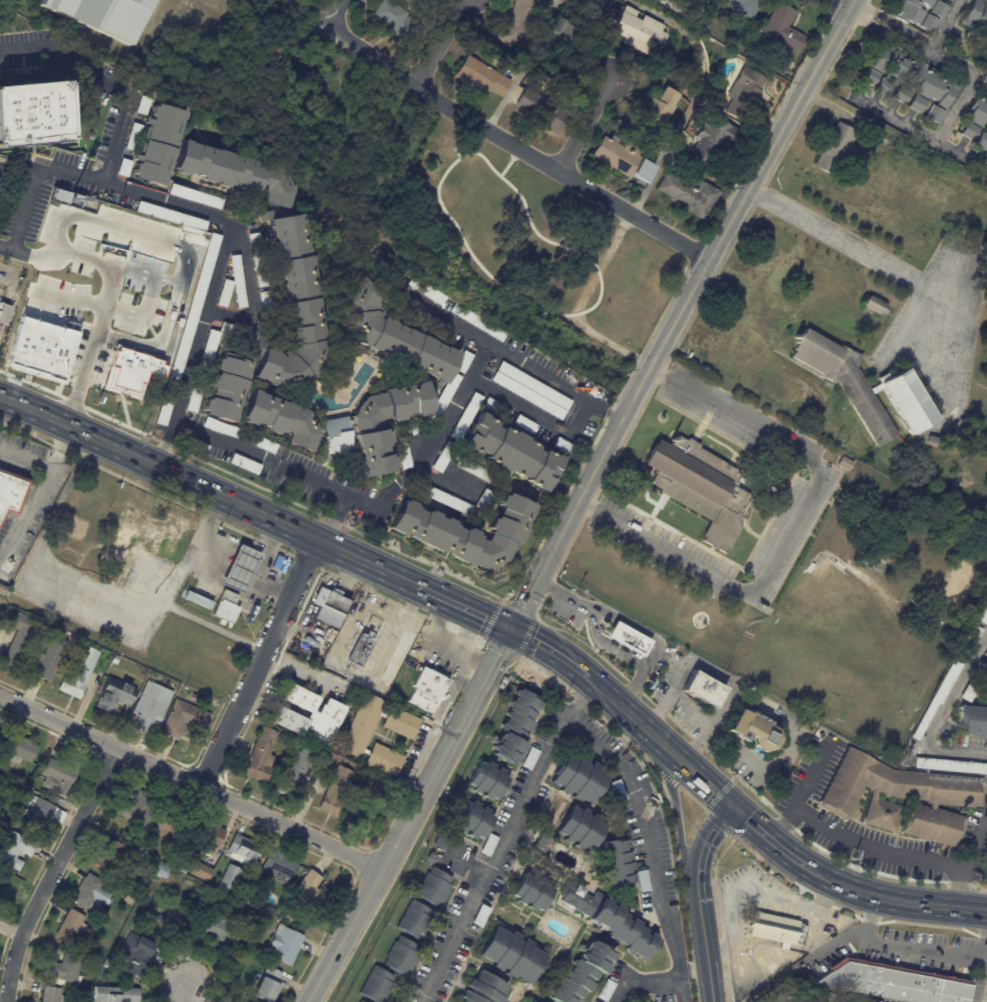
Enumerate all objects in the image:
building: (948, 0)
building: (983, 0)
building: (985, 0)
building: (664, 1)
road: (840, 3)
building: (747, 7)
building: (938, 9)
building: (910, 10)
road: (334, 12)
building: (104, 15)
building: (975, 16)
building: (393, 21)
road: (892, 22)
building: (519, 23)
building: (928, 23)
road: (947, 25)
building: (784, 29)
building: (985, 32)
road: (889, 34)
building: (643, 35)
road: (435, 43)
building: (568, 43)
building: (682, 54)
road: (524, 65)
building: (912, 75)
building: (868, 77)
building: (481, 79)
building: (882, 86)
road: (963, 92)
building: (744, 94)
building: (900, 95)
road: (692, 99)
building: (915, 104)
building: (142, 105)
building: (661, 110)
building: (977, 111)
building: (543, 112)
building: (932, 114)
building: (35, 115)
road: (582, 125)
building: (968, 131)
building: (986, 132)
building: (617, 135)
road: (917, 135)
building: (133, 136)
building: (713, 140)
building: (980, 141)
building: (158, 144)
road: (514, 145)
building: (836, 149)
road: (108, 153)
building: (624, 160)
building: (123, 168)
building: (235, 171)
road: (112, 183)
building: (61, 196)
building: (195, 196)
building: (690, 196)
building: (77, 198)
park: (456, 198)
building: (171, 216)
building: (257, 260)
road: (706, 260)
road: (898, 267)
road: (10, 268)
road: (217, 276)
building: (238, 281)
road: (89, 287)
building: (425, 290)
road: (10, 291)
road: (171, 293)
building: (224, 293)
road: (251, 296)
building: (265, 304)
building: (876, 306)
building: (293, 309)
road: (549, 311)
road: (3, 314)
building: (5, 314)
building: (48, 316)
road: (80, 317)
building: (477, 323)
building: (189, 330)
building: (236, 331)
building: (393, 336)
building: (462, 362)
building: (201, 371)
road: (65, 372)
road: (539, 375)
building: (846, 381)
building: (532, 385)
building: (226, 388)
building: (526, 395)
building: (443, 397)
building: (908, 400)
building: (493, 406)
road: (522, 406)
road: (605, 413)
building: (464, 417)
building: (282, 420)
road: (583, 420)
building: (523, 423)
building: (364, 426)
building: (219, 428)
building: (419, 428)
building: (337, 435)
road: (439, 435)
road: (226, 442)
building: (265, 445)
building: (197, 446)
building: (562, 446)
building: (403, 452)
building: (513, 453)
road: (165, 454)
building: (443, 457)
road: (26, 459)
building: (244, 464)
building: (846, 464)
building: (471, 468)
road: (445, 483)
building: (701, 487)
road: (210, 490)
building: (11, 491)
road: (38, 494)
building: (441, 498)
building: (483, 500)
road: (334, 519)
road: (204, 520)
building: (469, 532)
building: (143, 537)
road: (783, 543)
road: (263, 548)
road: (210, 556)
building: (277, 562)
building: (840, 565)
building: (810, 568)
building: (239, 569)
gas station: (239, 569)
road: (239, 570)
road: (537, 574)
road: (269, 585)
building: (2, 589)
road: (561, 594)
building: (198, 599)
road: (464, 606)
building: (224, 609)
building: (330, 609)
road: (120, 610)
building: (982, 613)
traffic signals: (510, 627)
road: (637, 628)
road: (467, 634)
building: (331, 635)
building: (627, 637)
building: (20, 638)
road: (605, 644)
road: (439, 647)
road: (547, 648)
building: (358, 650)
building: (52, 658)
building: (115, 659)
road: (258, 662)
building: (80, 673)
building: (947, 680)
building: (985, 681)
building: (972, 685)
building: (985, 685)
road: (632, 686)
building: (426, 689)
building: (704, 691)
building: (115, 694)
road: (581, 697)
building: (151, 705)
road: (776, 715)
road: (941, 715)
building: (307, 716)
building: (185, 718)
building: (399, 722)
building: (974, 722)
building: (360, 724)
building: (514, 726)
building: (756, 731)
building: (2, 733)
road: (657, 740)
road: (697, 747)
building: (20, 748)
road: (445, 748)
building: (259, 755)
building: (529, 758)
building: (382, 759)
building: (905, 759)
building: (950, 765)
building: (293, 772)
building: (62, 773)
building: (578, 779)
building: (487, 780)
road: (190, 782)
building: (617, 790)
building: (334, 793)
building: (900, 798)
building: (369, 805)
traffic signals: (733, 806)
building: (140, 808)
road: (675, 810)
building: (41, 814)
building: (471, 819)
building: (166, 825)
road: (785, 825)
building: (580, 828)
building: (210, 836)
road: (842, 836)
road: (766, 837)
building: (440, 840)
building: (541, 843)
building: (488, 845)
road: (703, 845)
road: (647, 847)
building: (14, 848)
building: (244, 850)
building: (109, 854)
building: (429, 857)
road: (494, 857)
road: (966, 858)
road: (468, 863)
building: (616, 864)
building: (279, 866)
building: (182, 868)
building: (161, 870)
building: (202, 871)
road: (53, 872)
building: (231, 878)
building: (641, 880)
building: (432, 886)
building: (311, 891)
road: (751, 891)
building: (531, 892)
building: (92, 893)
building: (576, 897)
building: (0, 898)
building: (130, 898)
road: (892, 900)
building: (479, 915)
building: (412, 919)
building: (173, 923)
building: (130, 925)
building: (71, 926)
building: (217, 928)
building: (622, 928)
building: (772, 928)
road: (343, 936)
road: (985, 938)
road: (839, 941)
road: (905, 943)
building: (286, 944)
road: (752, 946)
road: (703, 948)
building: (135, 953)
building: (511, 954)
building: (400, 955)
building: (108, 964)
building: (66, 969)
building: (230, 972)
building: (580, 973)
road: (655, 978)
building: (375, 984)
building: (894, 984)
building: (268, 985)
building: (482, 989)
building: (604, 990)
road: (183, 991)
building: (115, 994)
building: (53, 995)
building: (784, 997)
building: (358, 1001)
building: (530, 1001)
building: (751, 1001)

